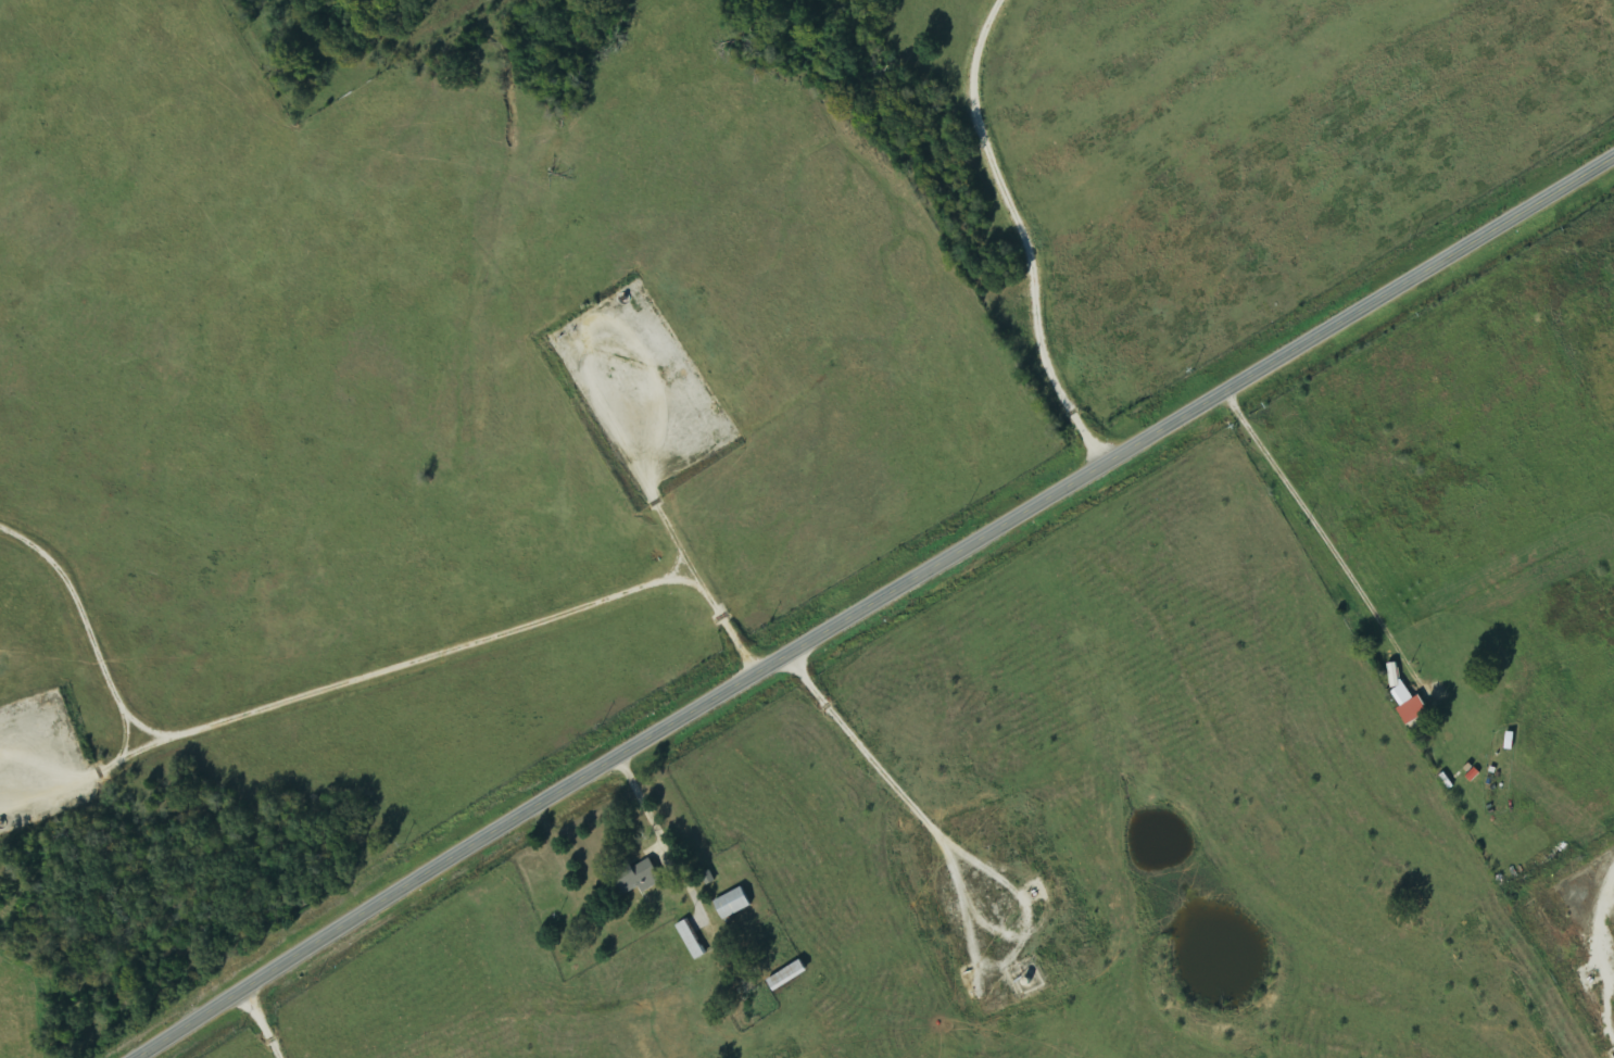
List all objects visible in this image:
road: (869, 601)
building: (1408, 697)
building: (735, 904)
building: (693, 941)
building: (790, 975)

